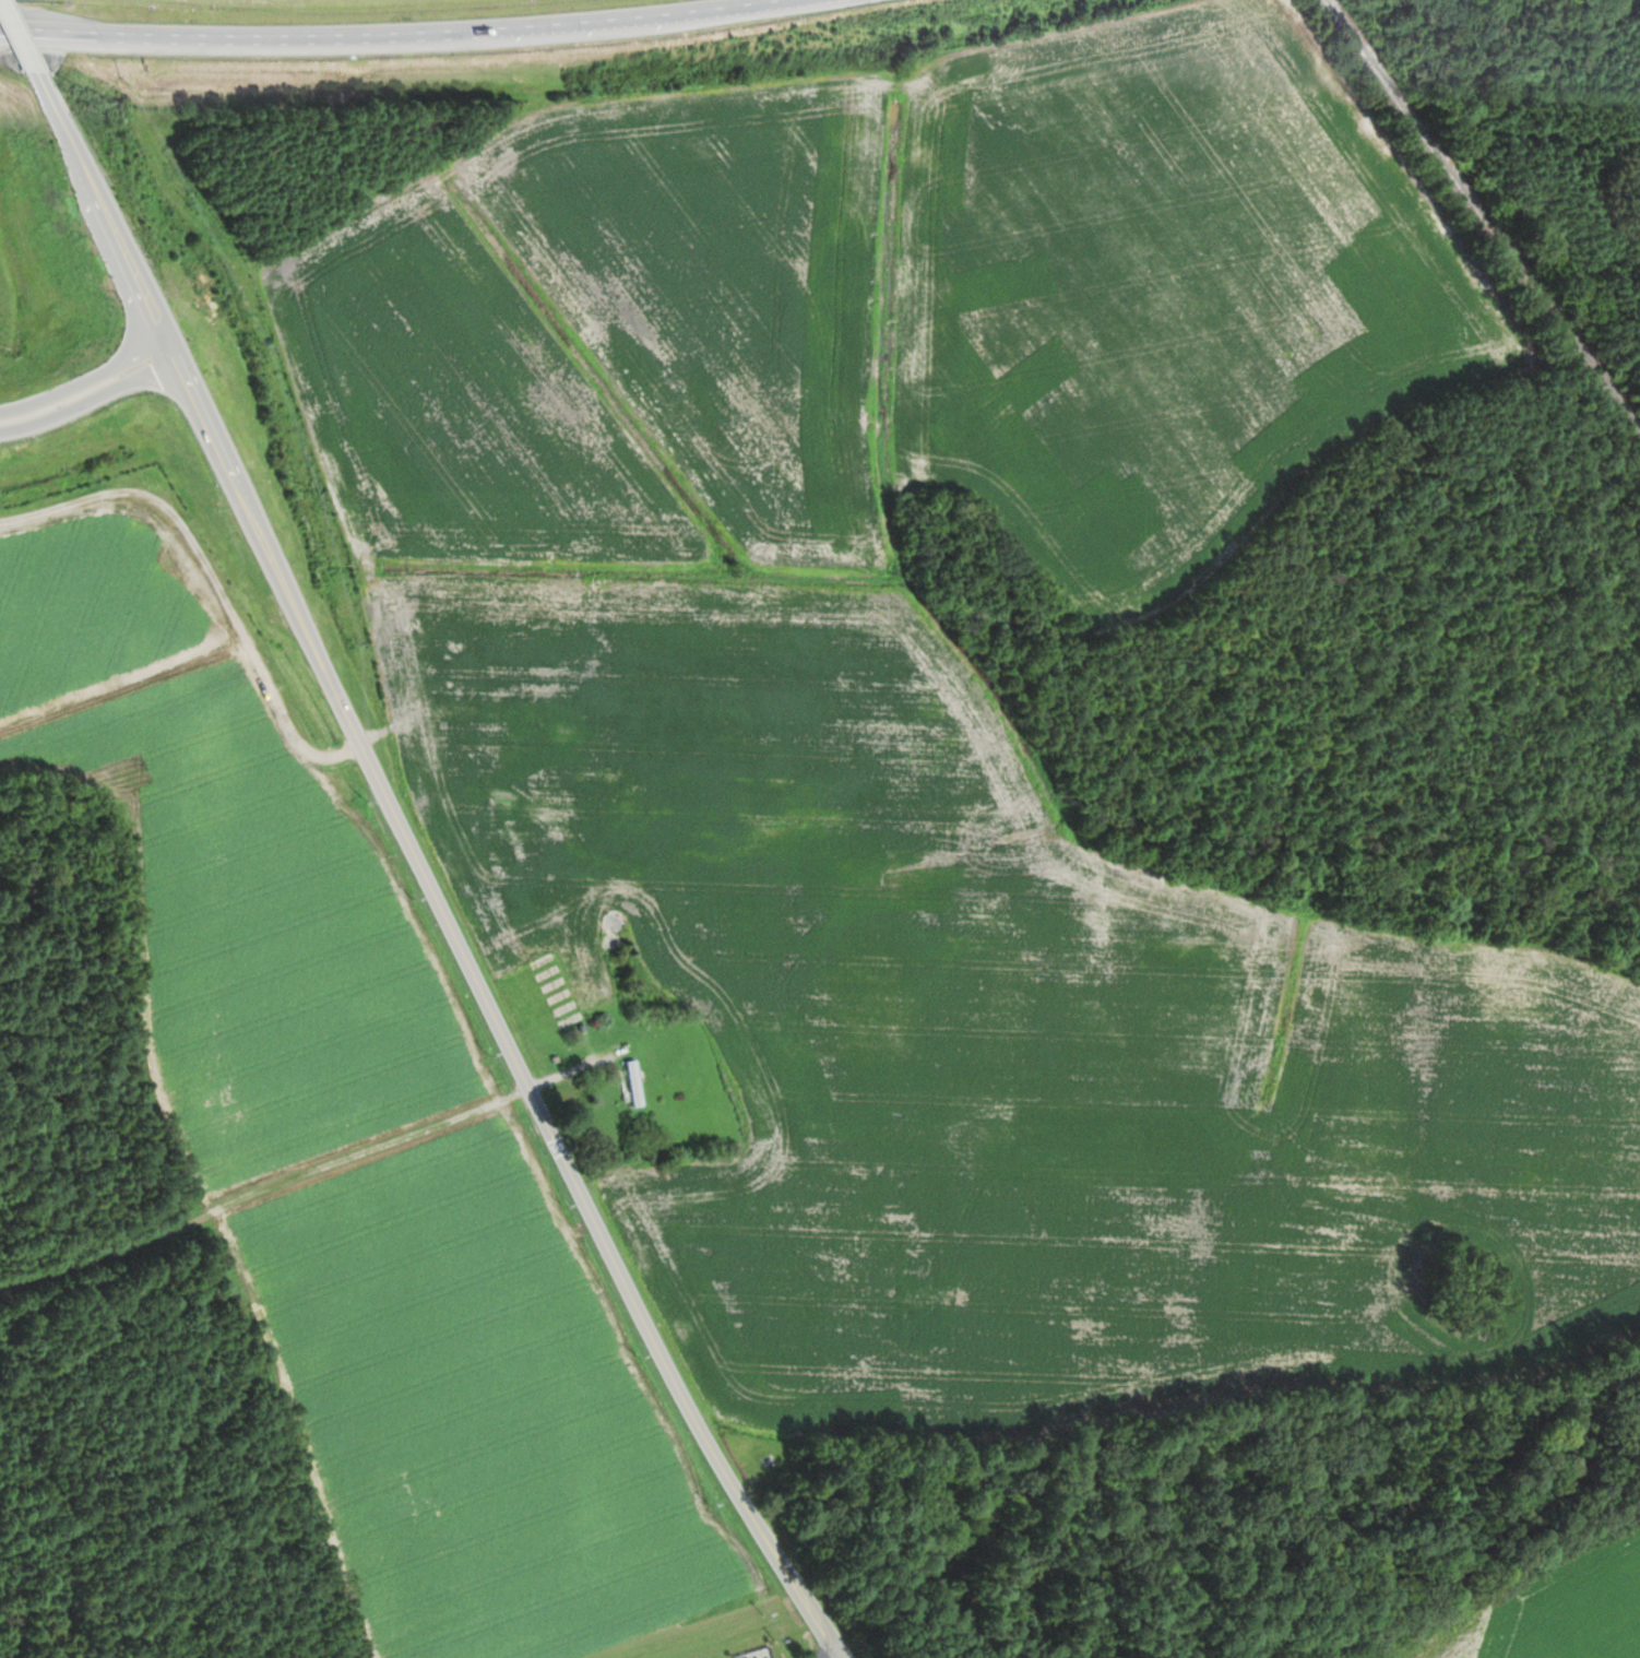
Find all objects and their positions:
road: (387, 33)
road: (29, 37)
road: (12, 45)
railway: (1481, 214)
road: (82, 379)
road: (84, 394)
road: (425, 868)
building: (633, 1081)
road: (342, 1162)
road: (837, 1657)

